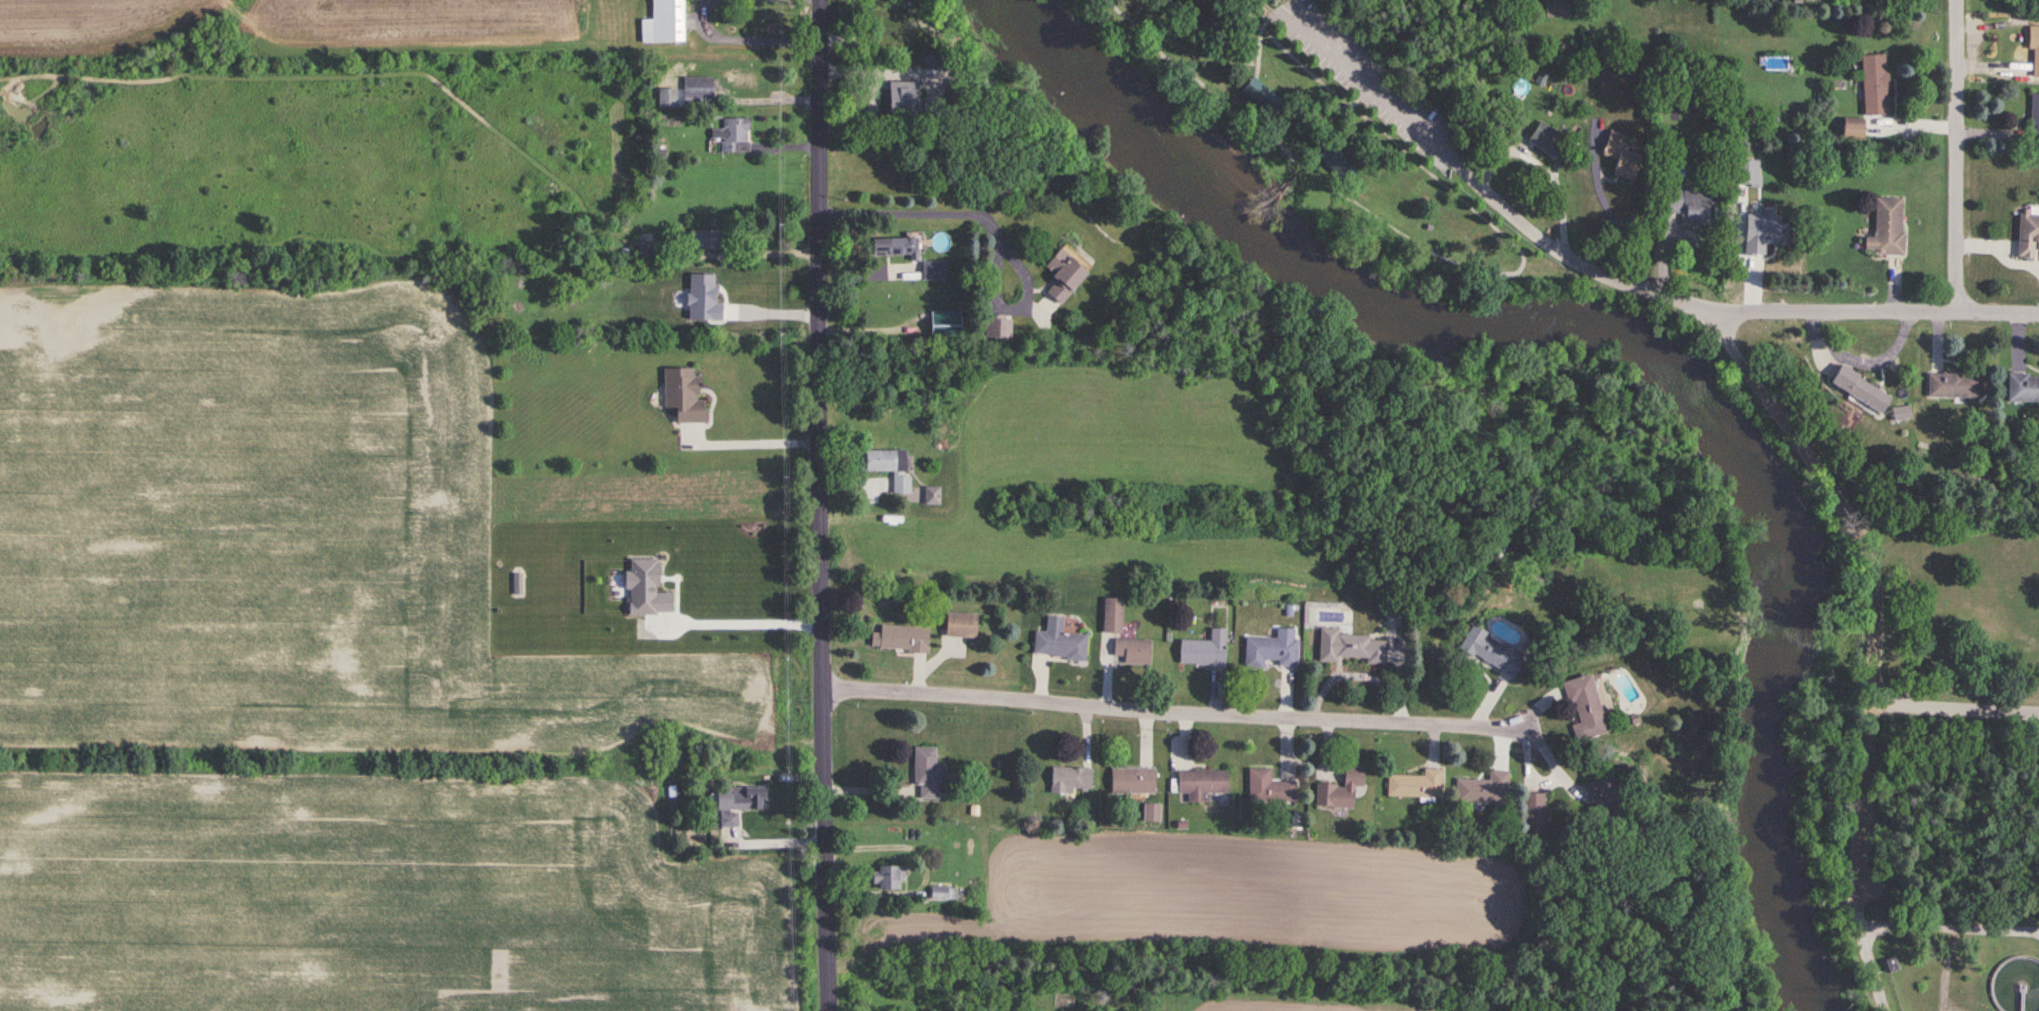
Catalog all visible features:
road: (1269, 6)
building: (663, 23)
road: (745, 39)
road: (1259, 41)
building: (2034, 49)
road: (1245, 60)
building: (744, 76)
building: (1675, 84)
building: (1873, 86)
building: (696, 89)
building: (1258, 94)
building: (899, 99)
road: (1345, 116)
building: (2034, 119)
building: (1852, 128)
building: (732, 136)
building: (1545, 140)
building: (1619, 156)
road: (1958, 156)
building: (1334, 160)
building: (1689, 205)
building: (1886, 228)
road: (1612, 231)
road: (992, 234)
building: (2027, 235)
building: (701, 239)
building: (890, 247)
road: (755, 257)
road: (1468, 266)
building: (932, 270)
building: (1060, 275)
building: (749, 298)
road: (1867, 312)
building: (997, 327)
river: (1625, 338)
building: (1954, 385)
building: (2023, 389)
building: (1856, 390)
building: (681, 394)
road: (1770, 405)
building: (1900, 413)
road: (758, 442)
building: (881, 460)
building: (930, 496)
road: (826, 505)
park: (1801, 505)
building: (1534, 578)
building: (1111, 616)
building: (958, 625)
road: (743, 631)
building: (899, 638)
building: (1057, 642)
building: (1351, 647)
building: (1203, 650)
building: (1132, 652)
building: (1269, 652)
building: (1490, 652)
building: (1583, 707)
road: (1956, 708)
road: (1187, 710)
building: (926, 772)
building: (1070, 780)
building: (1132, 780)
building: (1200, 783)
building: (1415, 784)
building: (1268, 786)
building: (1339, 789)
building: (1482, 789)
building: (1595, 790)
building: (736, 803)
building: (1151, 813)
building: (1531, 815)
building: (889, 878)
building: (942, 893)
building: (1127, 988)

